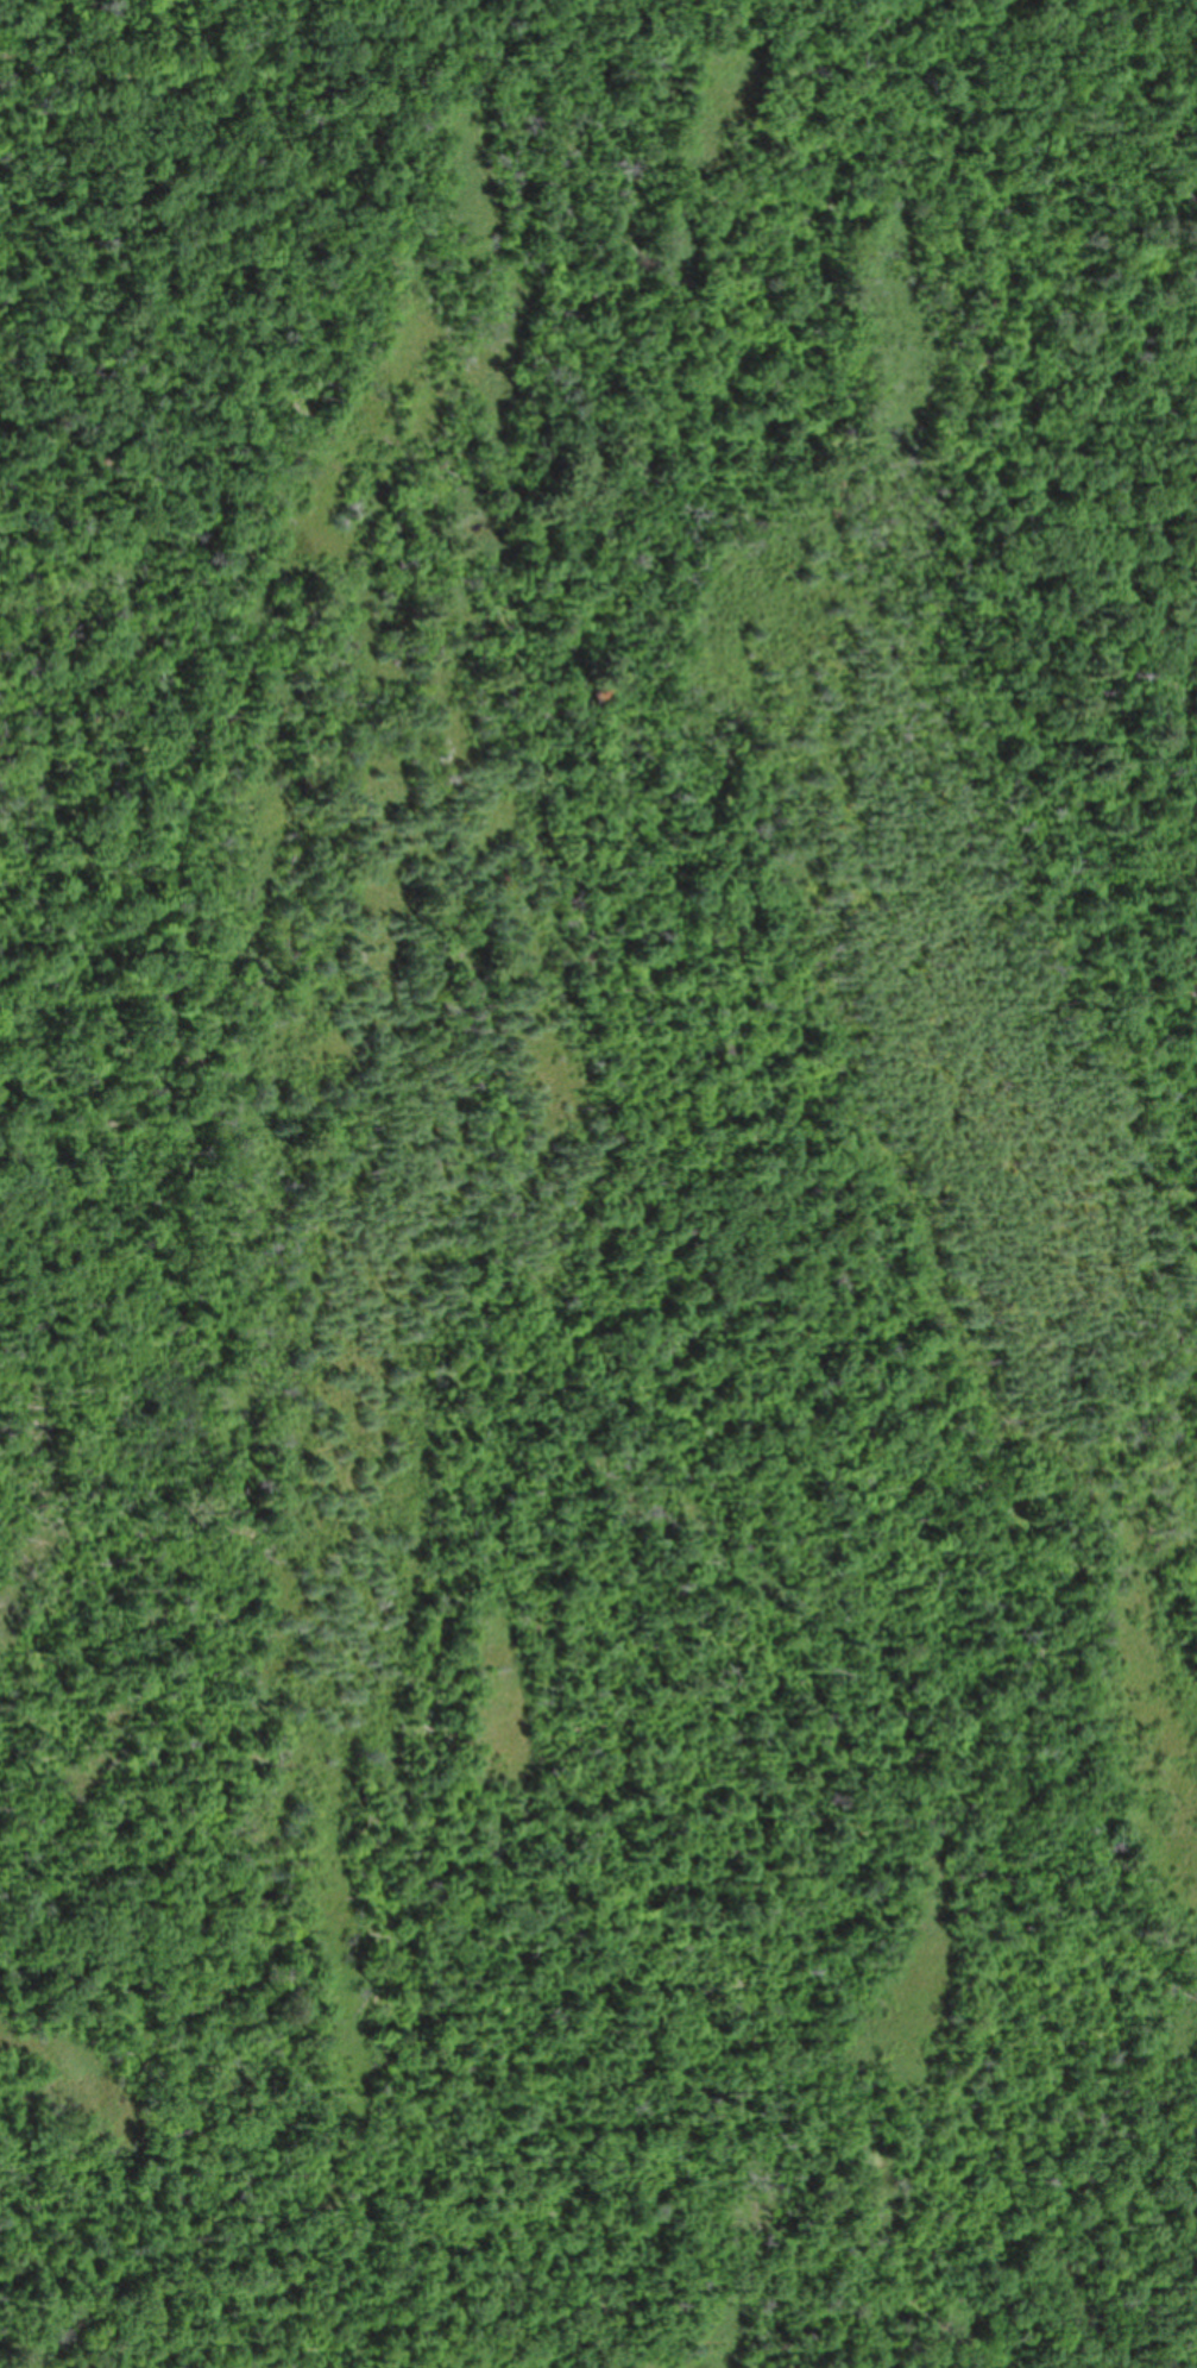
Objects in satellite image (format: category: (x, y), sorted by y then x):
park: (598, 1183)

